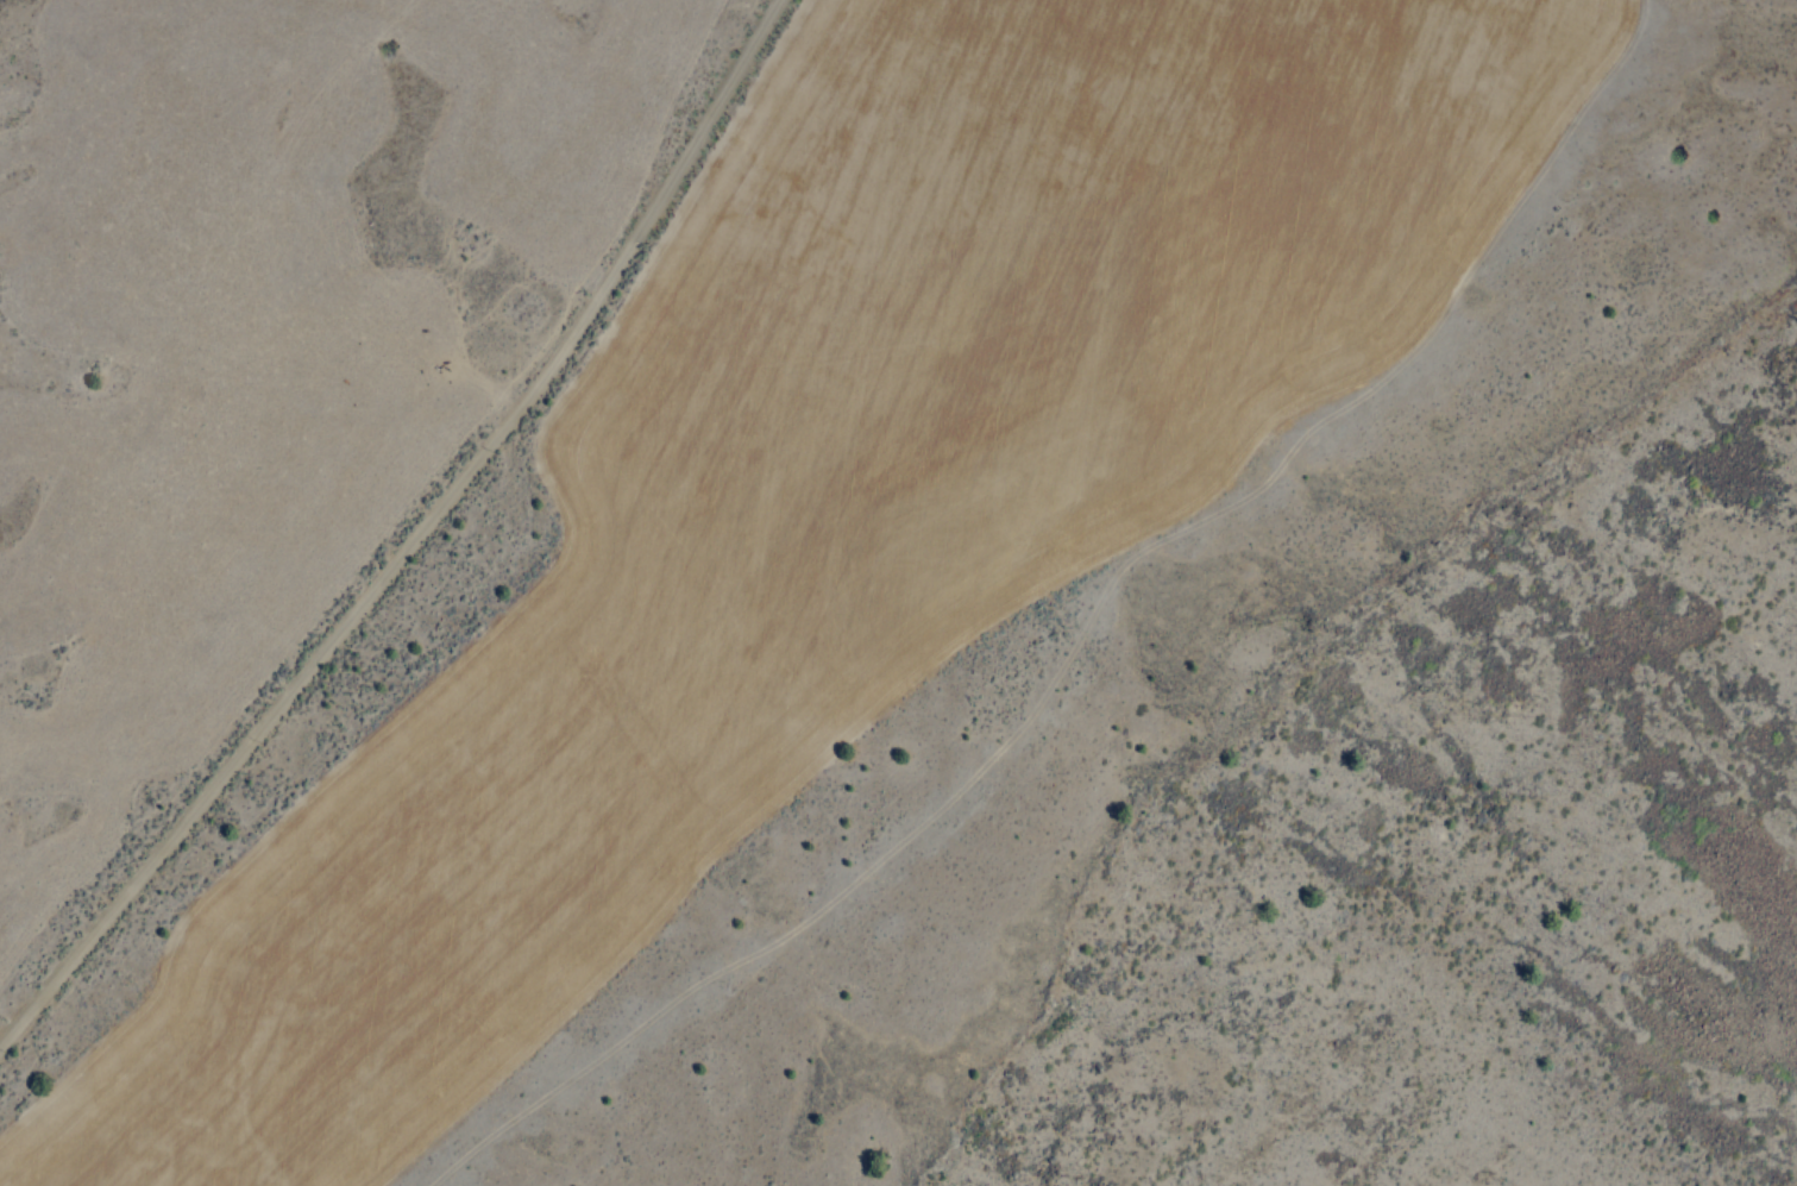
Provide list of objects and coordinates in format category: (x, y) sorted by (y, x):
road: (408, 540)

